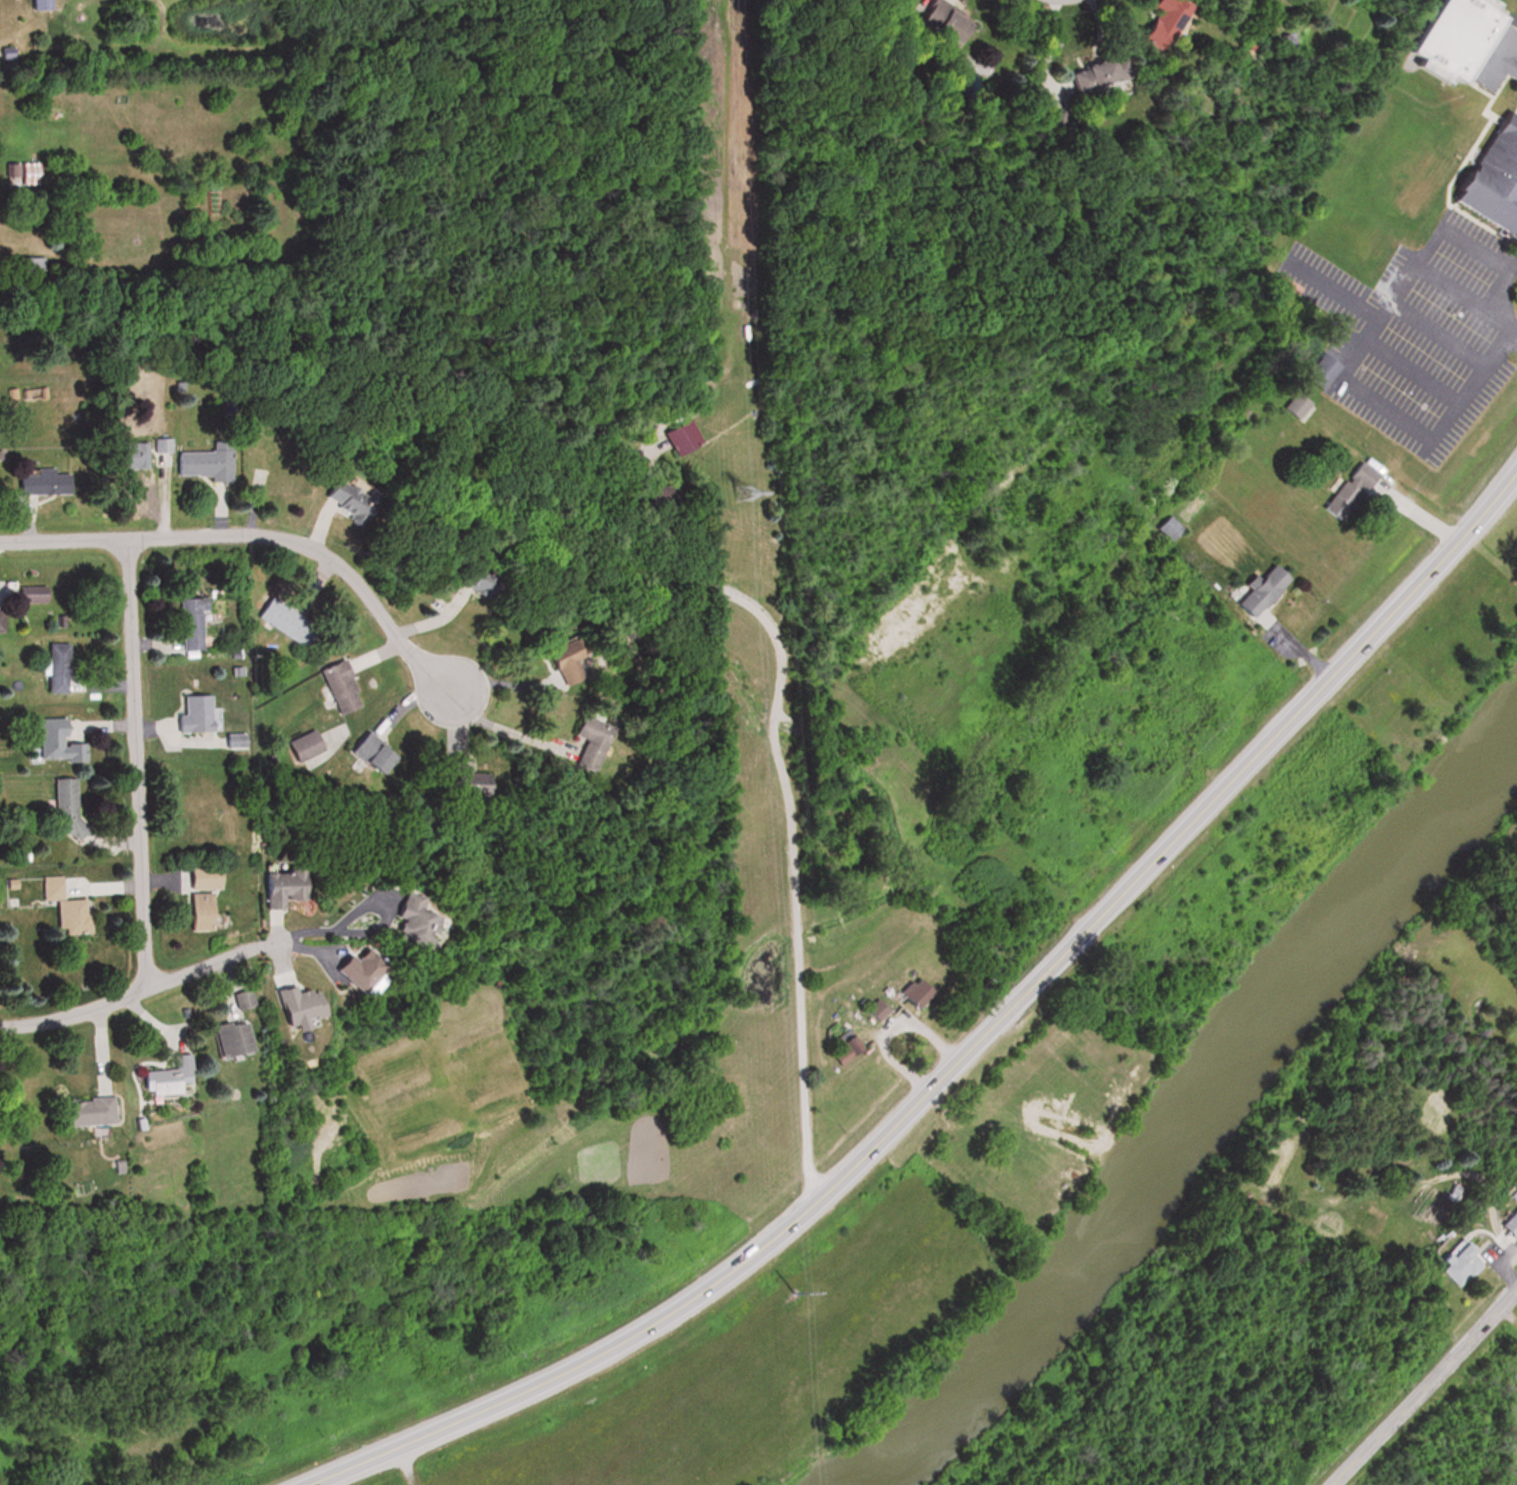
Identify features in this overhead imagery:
building: (37, 4)
building: (937, 19)
building: (1159, 22)
building: (1461, 44)
building: (1094, 71)
building: (19, 172)
building: (1489, 177)
building: (29, 263)
road: (1503, 293)
building: (1315, 371)
building: (1292, 406)
building: (676, 437)
building: (158, 445)
building: (124, 455)
building: (200, 461)
building: (37, 481)
building: (1342, 492)
building: (345, 494)
power tower: (742, 494)
building: (1188, 503)
building: (1165, 527)
road: (259, 530)
building: (477, 585)
building: (1254, 590)
building: (31, 593)
building: (278, 618)
building: (187, 622)
building: (557, 660)
building: (54, 666)
building: (336, 686)
building: (191, 714)
road: (501, 727)
building: (231, 740)
building: (55, 741)
building: (579, 741)
building: (299, 745)
building: (364, 751)
road: (131, 763)
building: (460, 778)
building: (63, 805)
road: (791, 838)
building: (198, 875)
building: (282, 886)
building: (63, 906)
building: (197, 910)
building: (402, 921)
road: (329, 925)
building: (352, 969)
road: (137, 988)
building: (912, 991)
building: (240, 1001)
building: (874, 1009)
building: (229, 1038)
road: (962, 1047)
building: (845, 1048)
building: (166, 1078)
river: (1187, 1100)
building: (81, 1111)
building: (1507, 1222)
building: (1454, 1263)
power tower: (792, 1292)
road: (1420, 1382)

